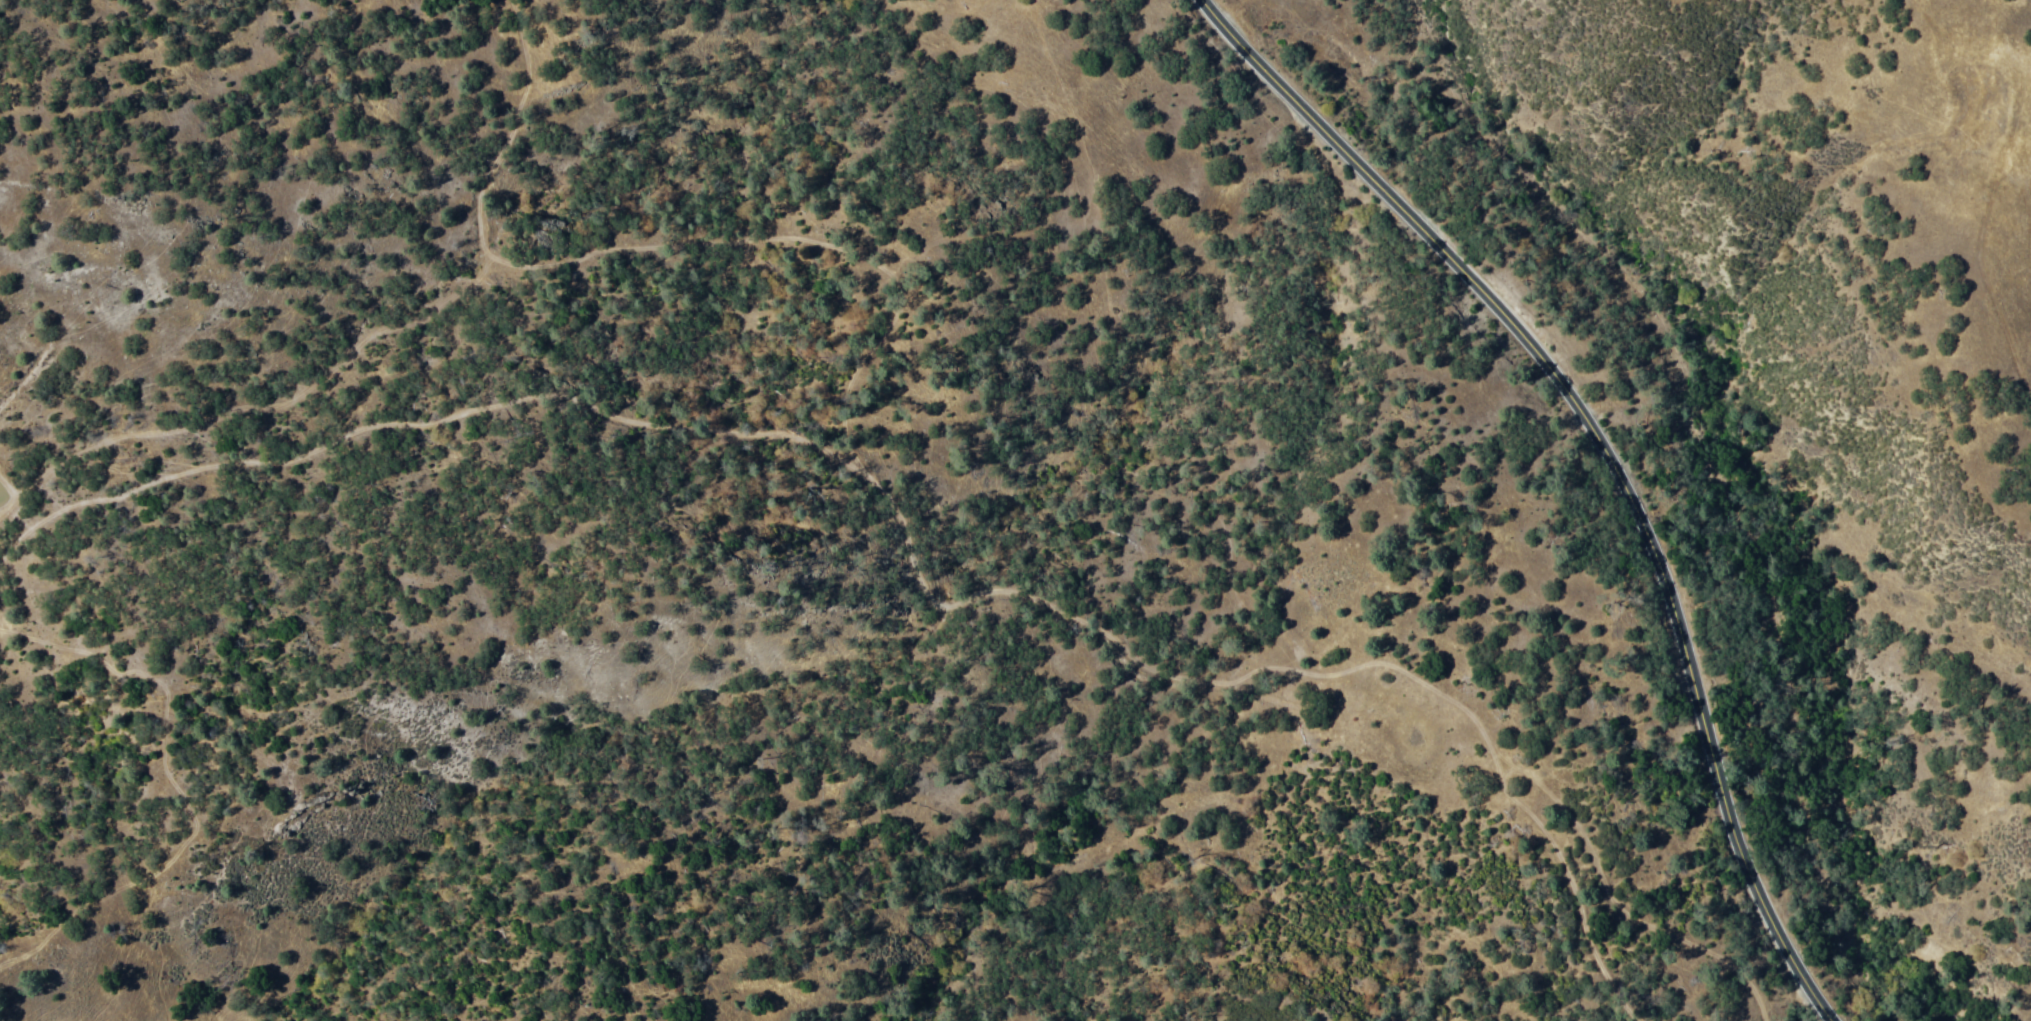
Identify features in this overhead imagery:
road: (1610, 453)
road: (922, 588)

